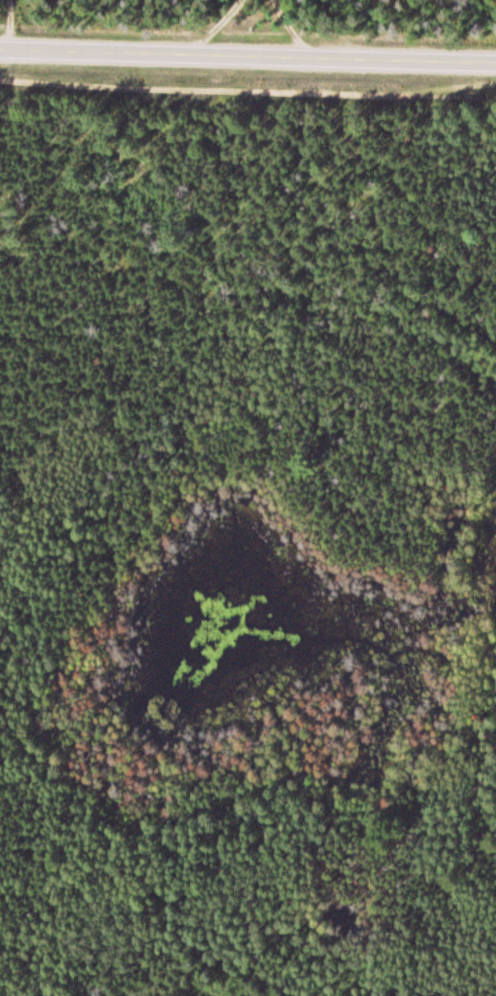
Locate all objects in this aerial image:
road: (98, 28)
road: (256, 30)
road: (248, 59)
road: (247, 89)
road: (39, 947)

